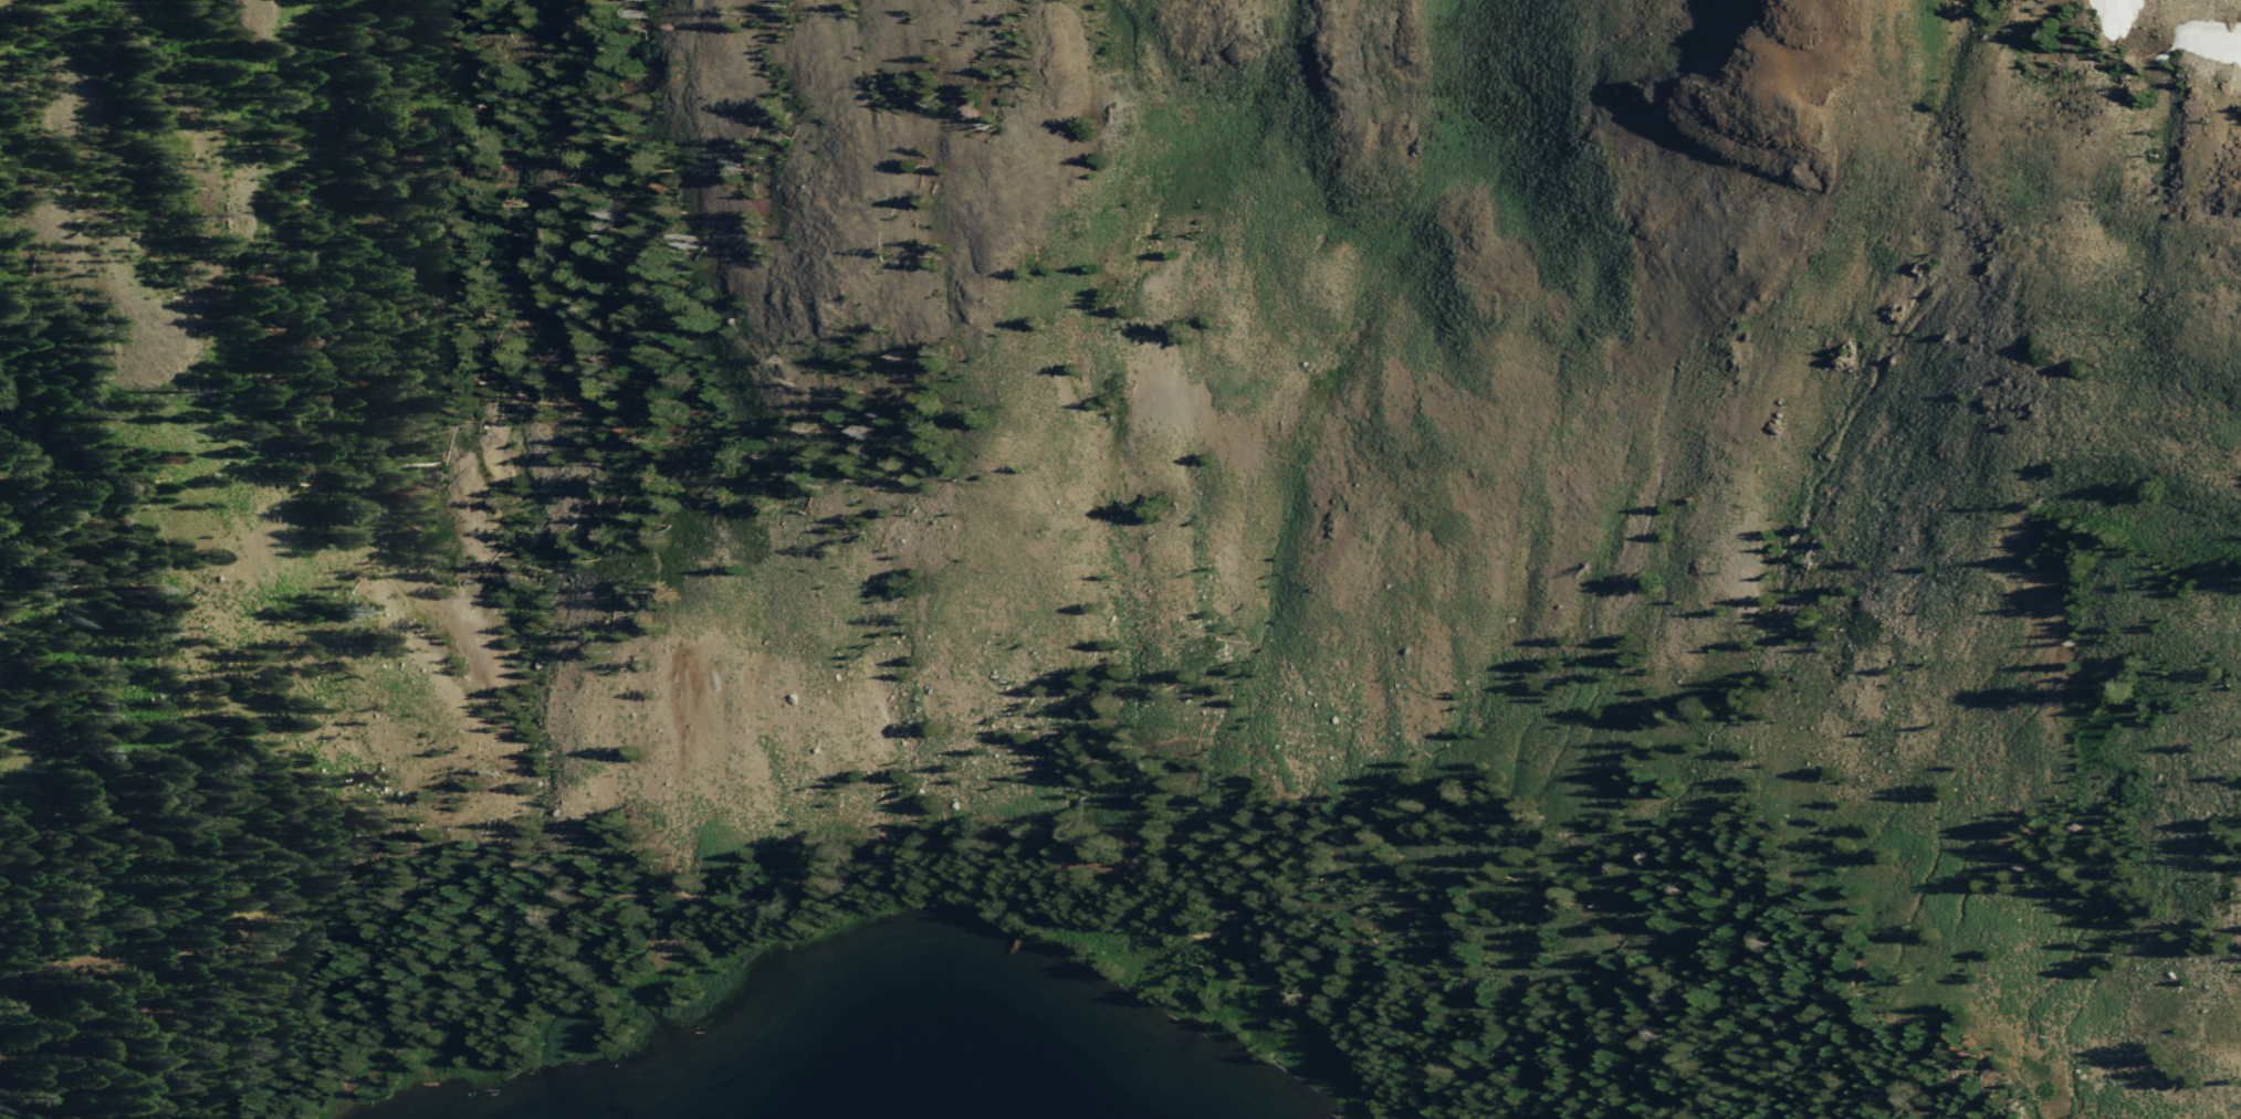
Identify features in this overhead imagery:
road: (678, 890)

